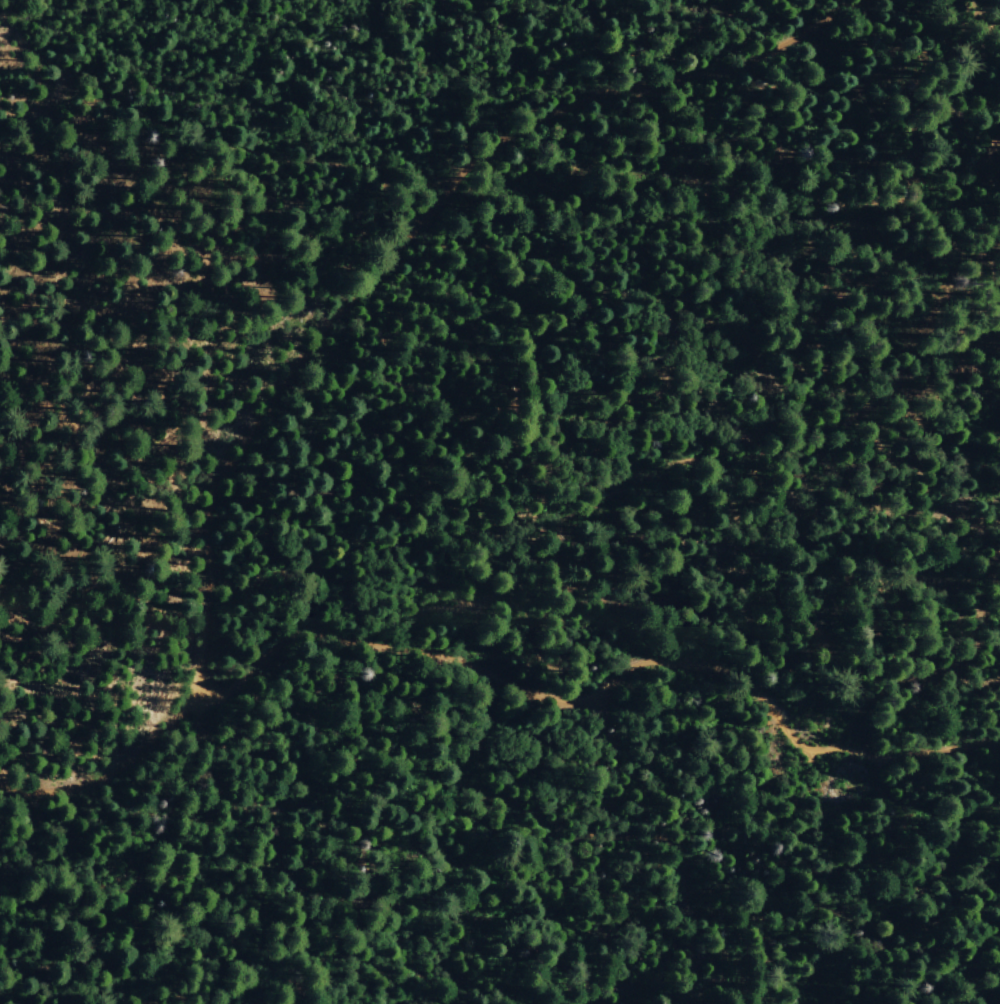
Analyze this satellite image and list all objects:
road: (333, 424)
road: (465, 678)

